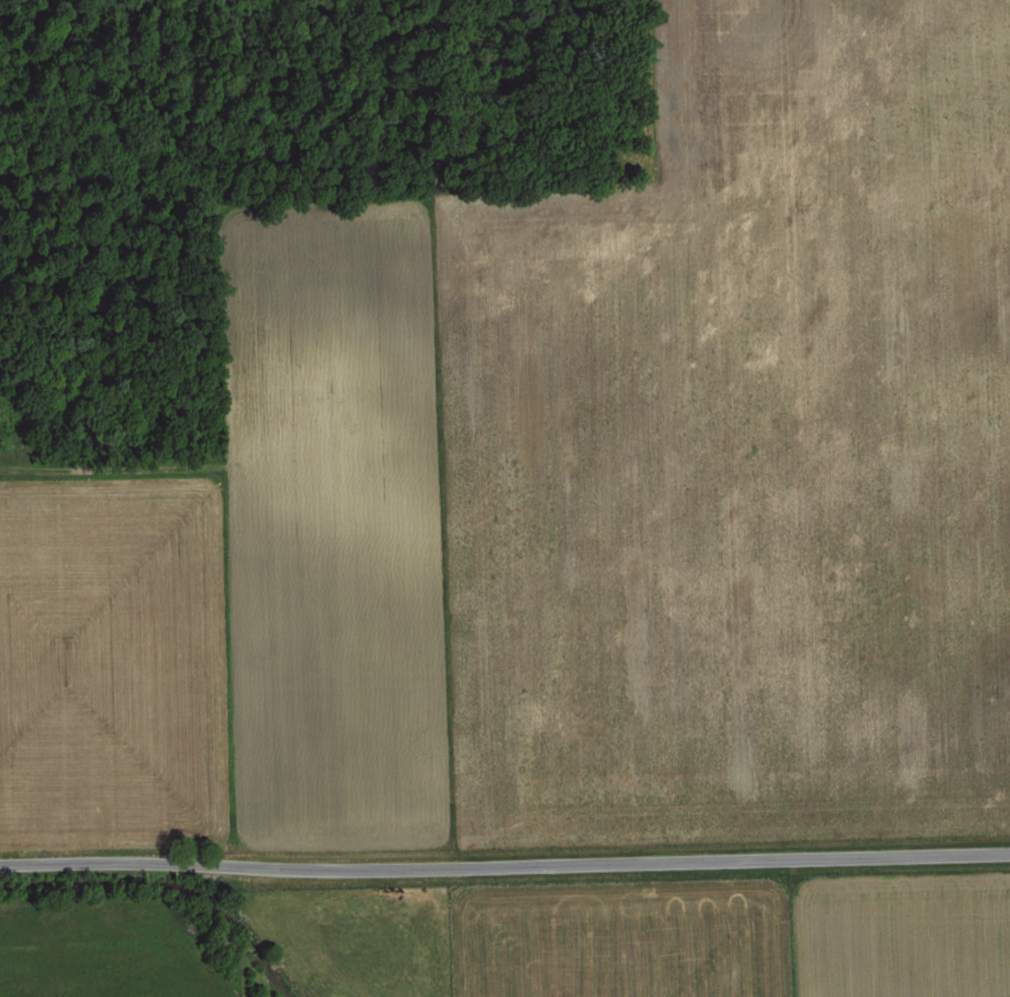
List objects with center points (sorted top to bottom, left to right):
road: (504, 864)

